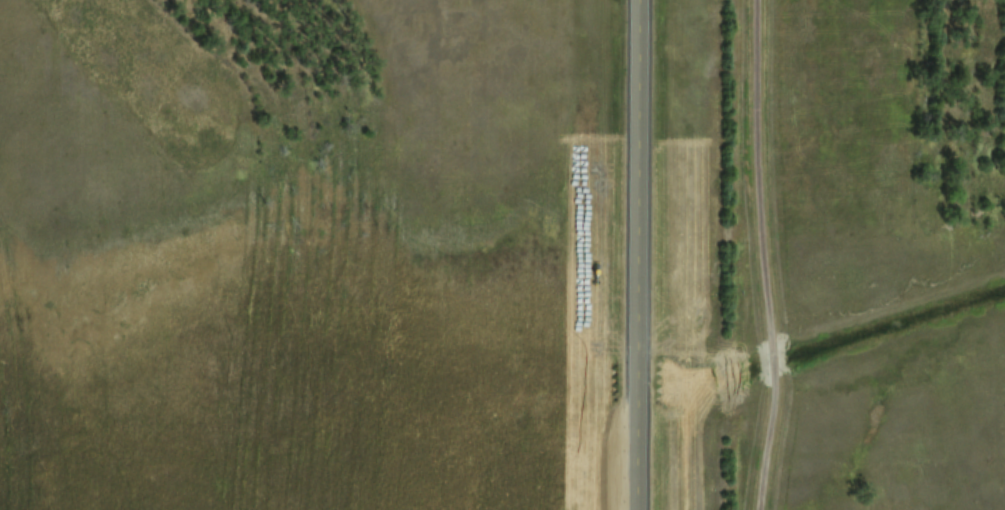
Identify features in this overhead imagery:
road: (629, 255)
road: (763, 255)

